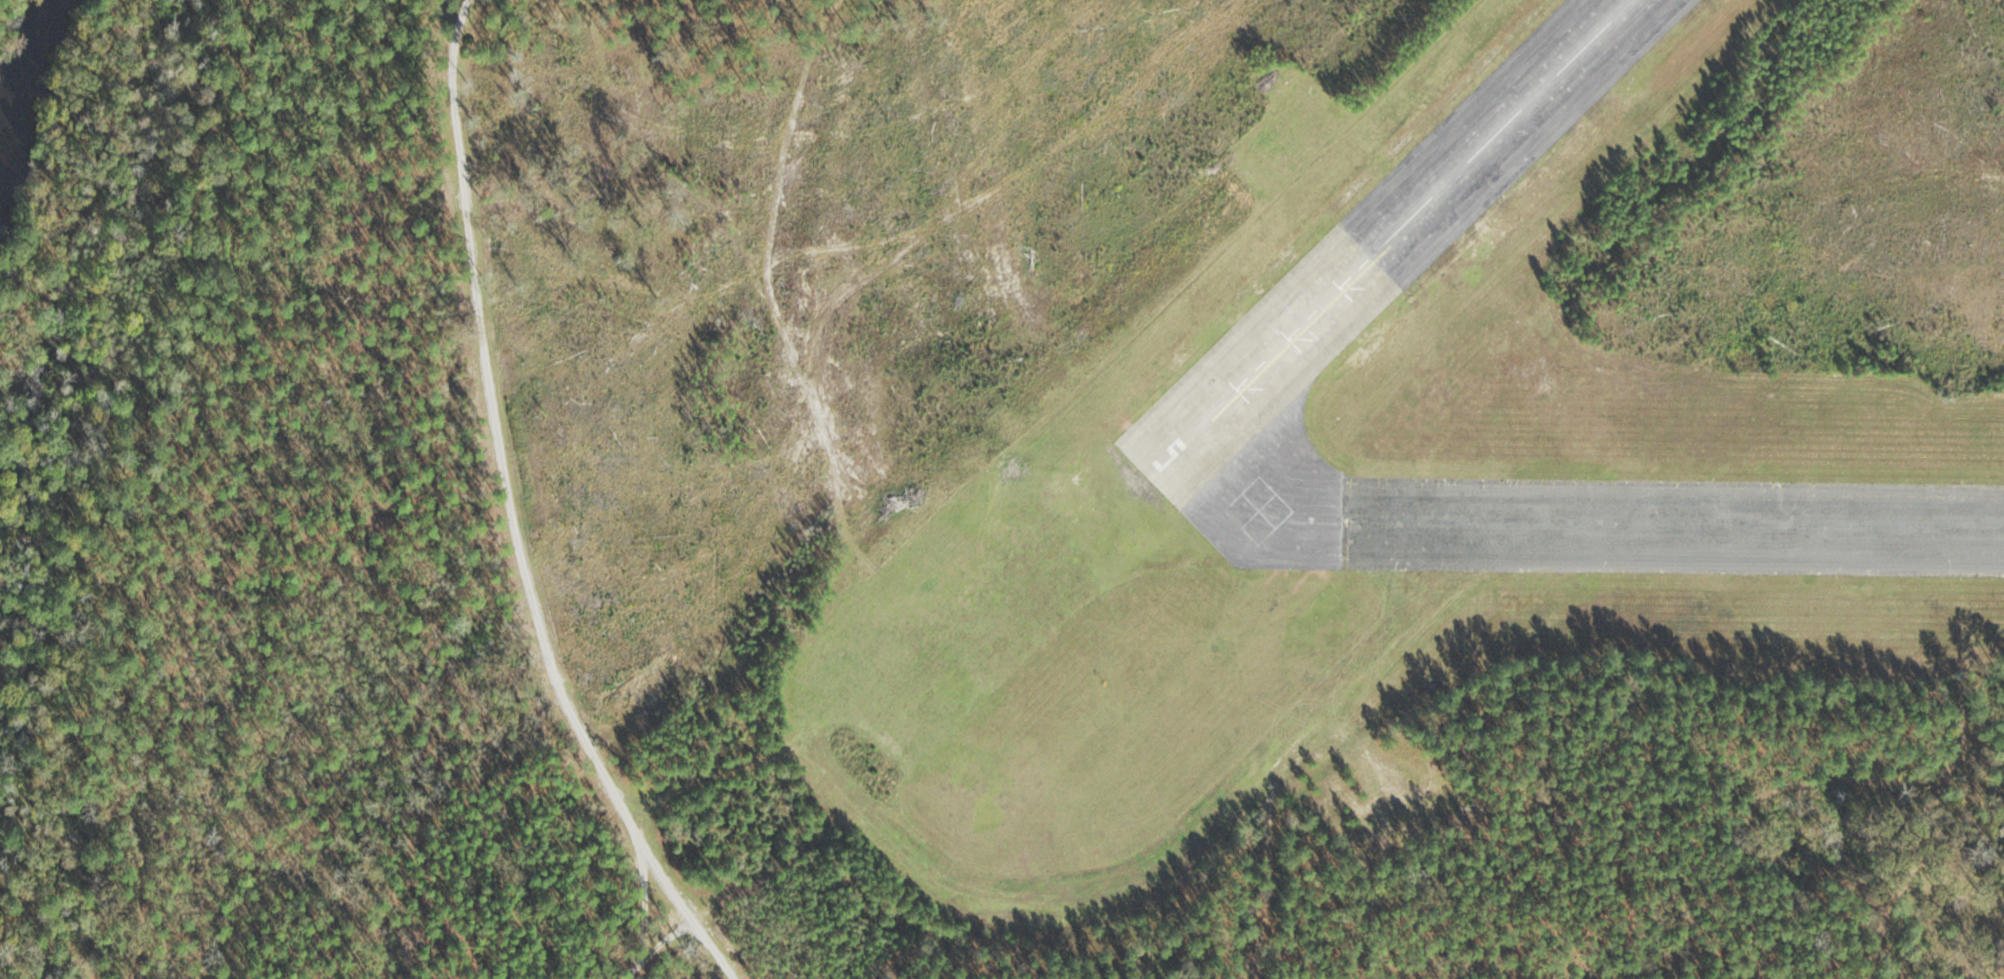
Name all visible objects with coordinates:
building: (1609, 31)
river: (31, 82)
airport runway: (1506, 130)
building: (1502, 143)
airport taxiway: (1221, 423)
airport: (1006, 491)
airport runway: (1675, 524)

